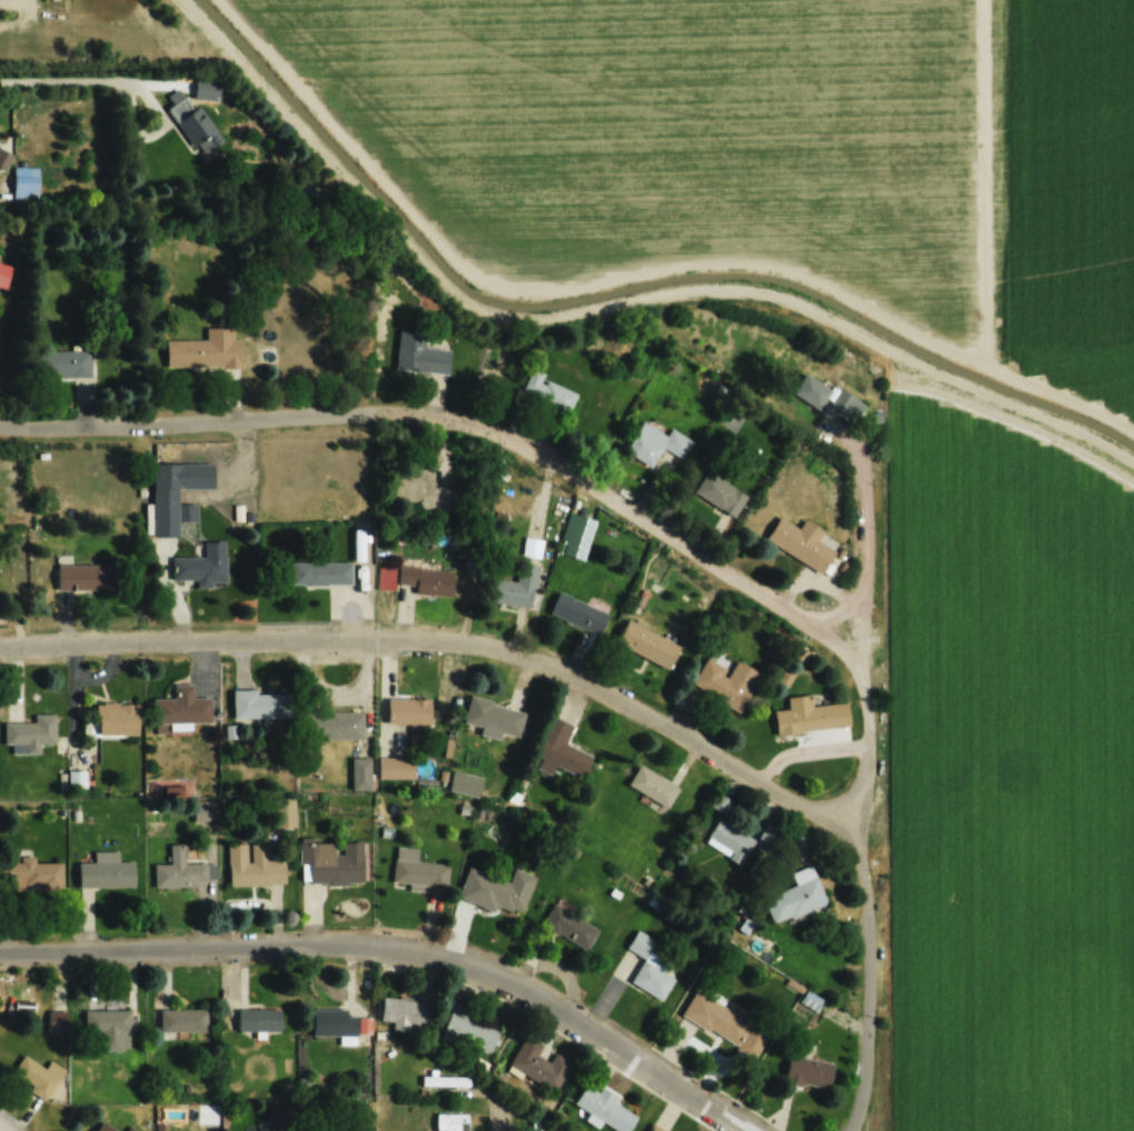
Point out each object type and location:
road: (63, 82)
road: (159, 105)
building: (193, 123)
building: (9, 161)
road: (636, 271)
building: (3, 272)
road: (468, 304)
building: (205, 350)
building: (419, 354)
building: (67, 364)
building: (810, 390)
building: (546, 393)
road: (999, 396)
building: (846, 403)
road: (451, 419)
building: (656, 443)
building: (420, 489)
building: (719, 493)
building: (169, 509)
building: (577, 529)
road: (873, 540)
building: (800, 542)
building: (205, 564)
building: (320, 572)
building: (83, 576)
building: (426, 579)
building: (515, 588)
building: (578, 612)
road: (451, 642)
building: (647, 643)
building: (725, 681)
building: (260, 704)
building: (182, 706)
building: (408, 711)
building: (803, 715)
building: (117, 717)
building: (491, 718)
building: (341, 724)
building: (30, 734)
building: (563, 757)
building: (390, 767)
building: (360, 773)
building: (76, 778)
building: (465, 783)
building: (653, 785)
building: (738, 842)
building: (255, 864)
building: (331, 864)
road: (868, 869)
building: (181, 870)
building: (106, 871)
building: (37, 873)
building: (419, 873)
building: (497, 891)
building: (795, 896)
building: (570, 926)
road: (399, 949)
building: (644, 966)
building: (405, 1012)
building: (57, 1020)
building: (182, 1020)
building: (258, 1020)
building: (340, 1022)
building: (726, 1022)
building: (110, 1026)
building: (467, 1028)
building: (538, 1063)
building: (808, 1071)
building: (38, 1075)
building: (606, 1109)
road: (505, 1115)
building: (280, 1118)
building: (452, 1121)
road: (6, 1125)
building: (531, 1125)
building: (105, 1128)
building: (655, 1128)
building: (130, 1129)

